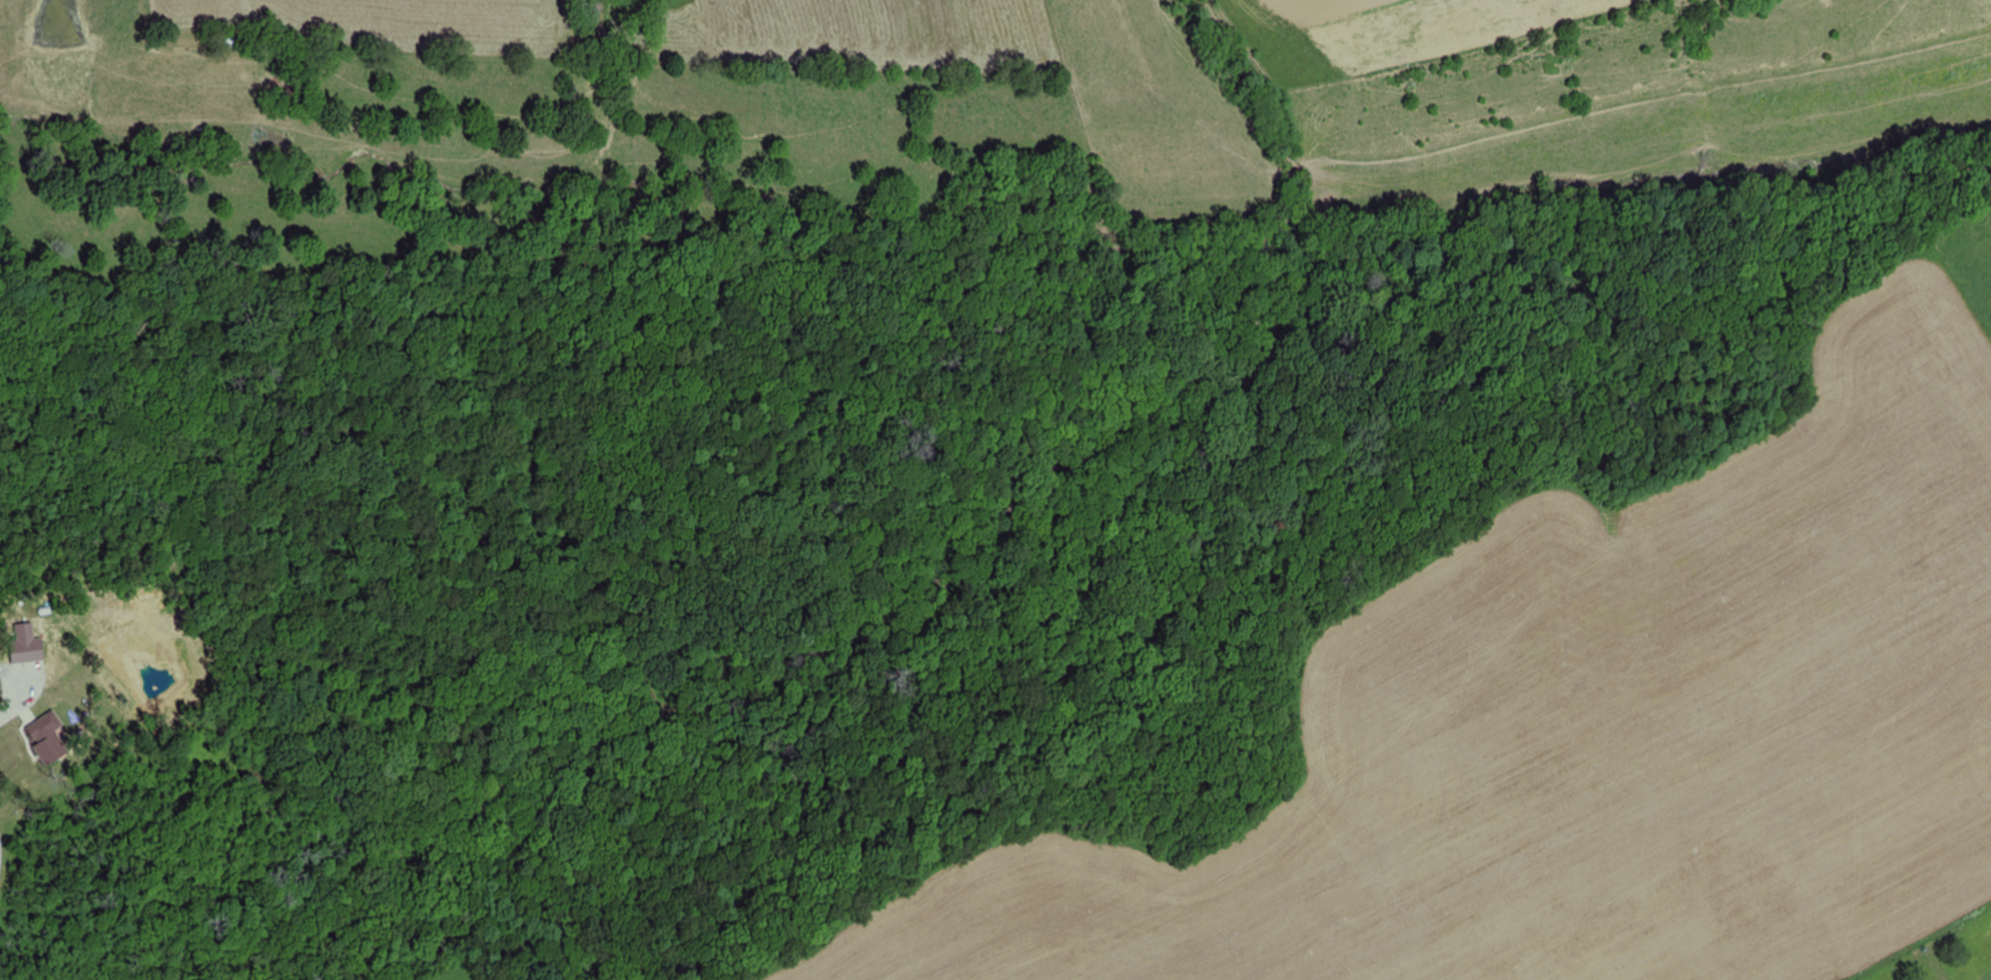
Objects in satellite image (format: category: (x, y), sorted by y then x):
building: (261, 135)

